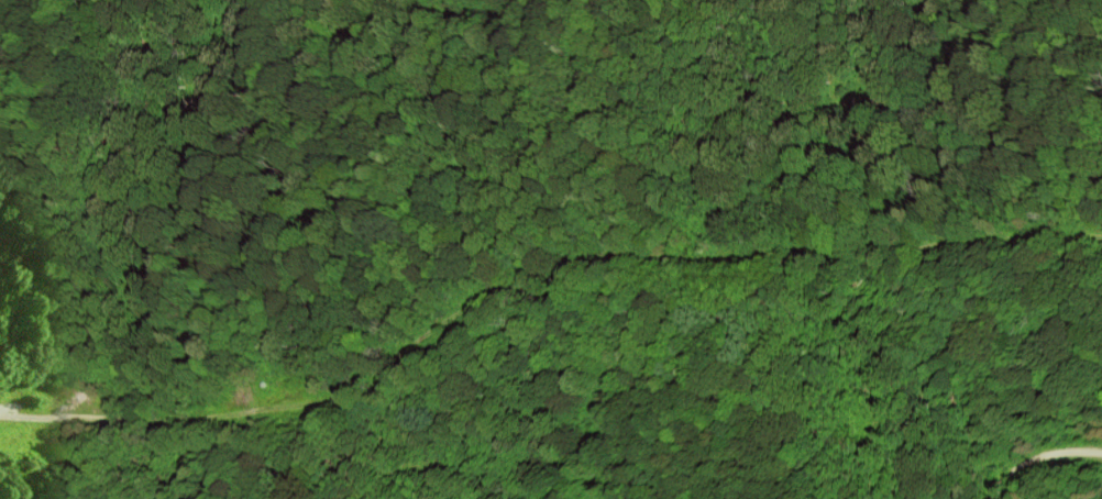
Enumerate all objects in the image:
road: (535, 271)
road: (1040, 456)

